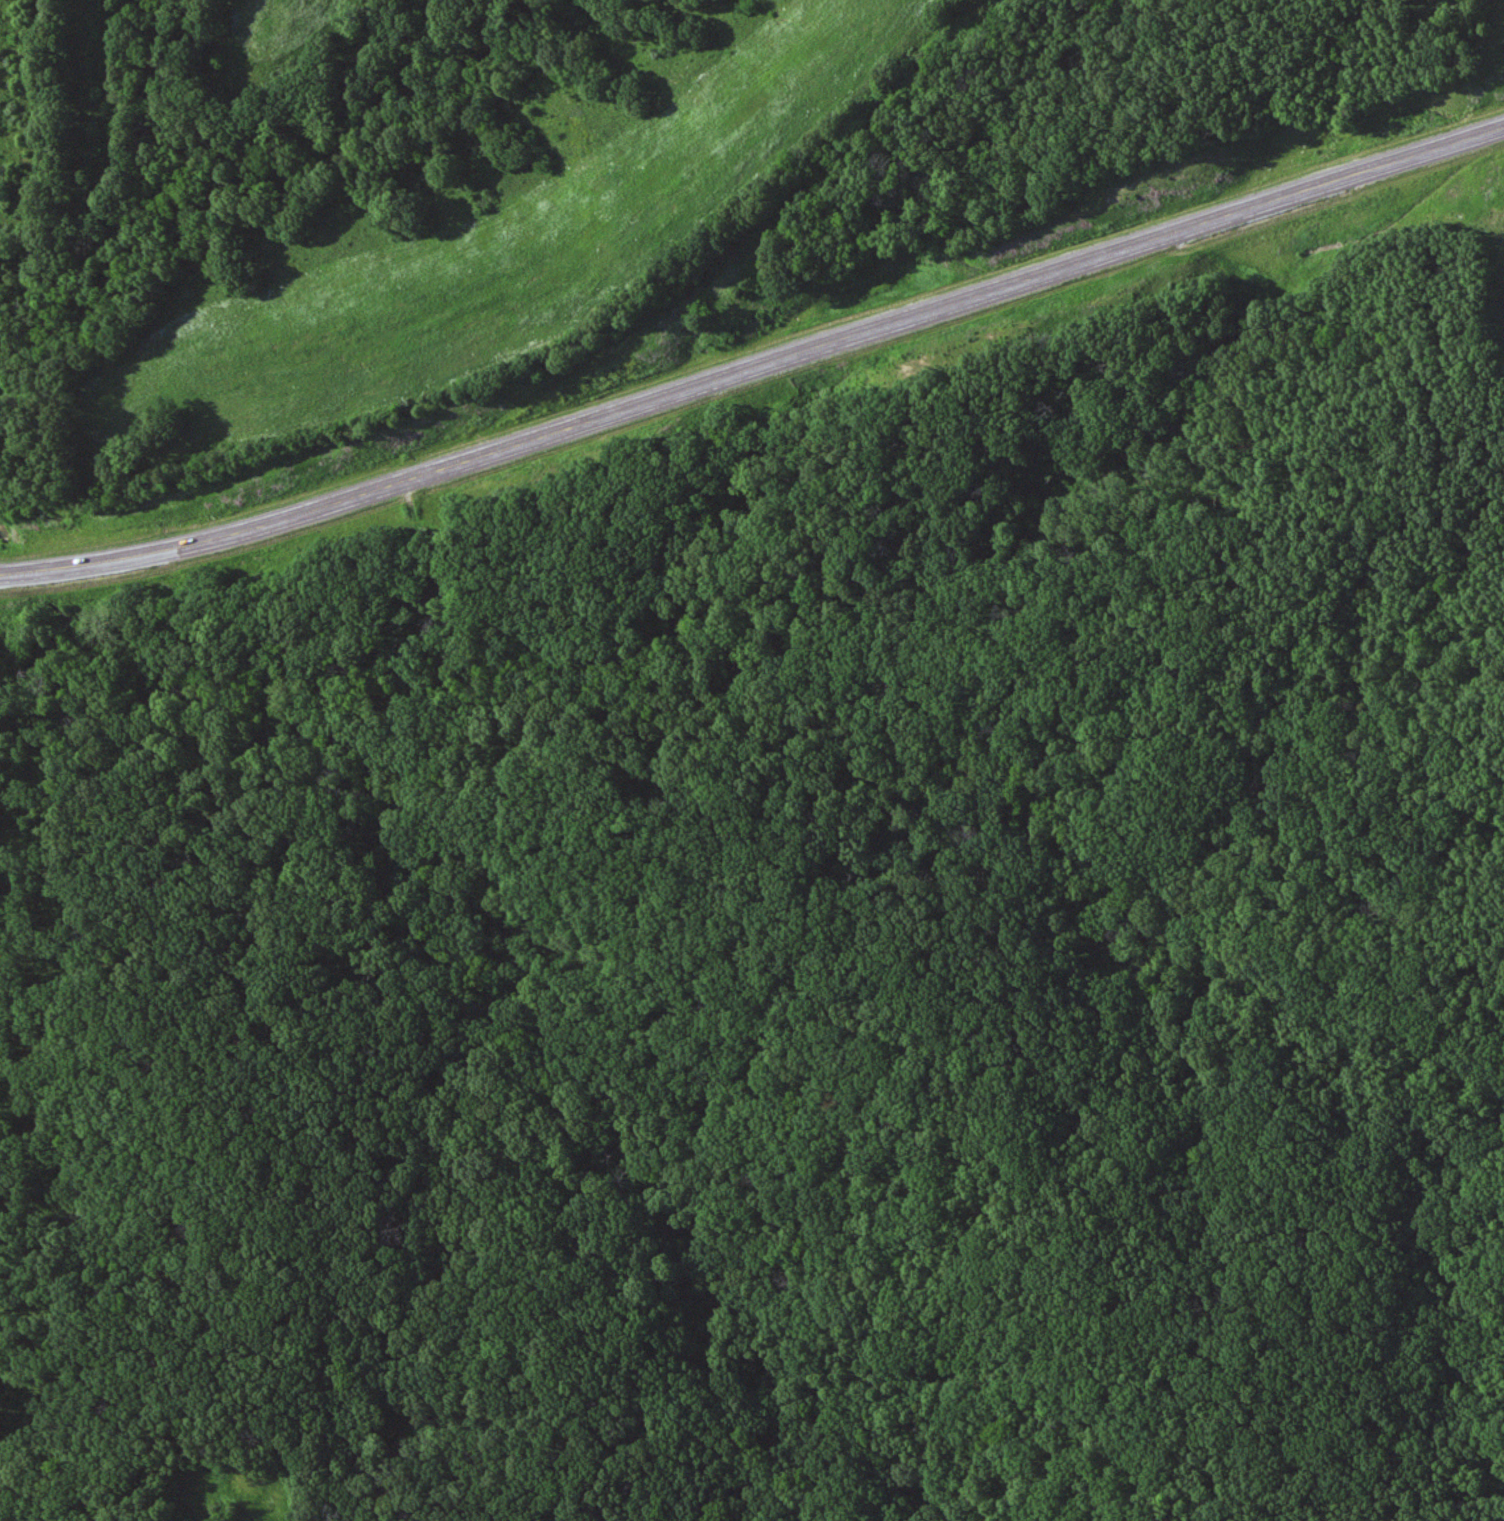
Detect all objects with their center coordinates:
road: (755, 363)

